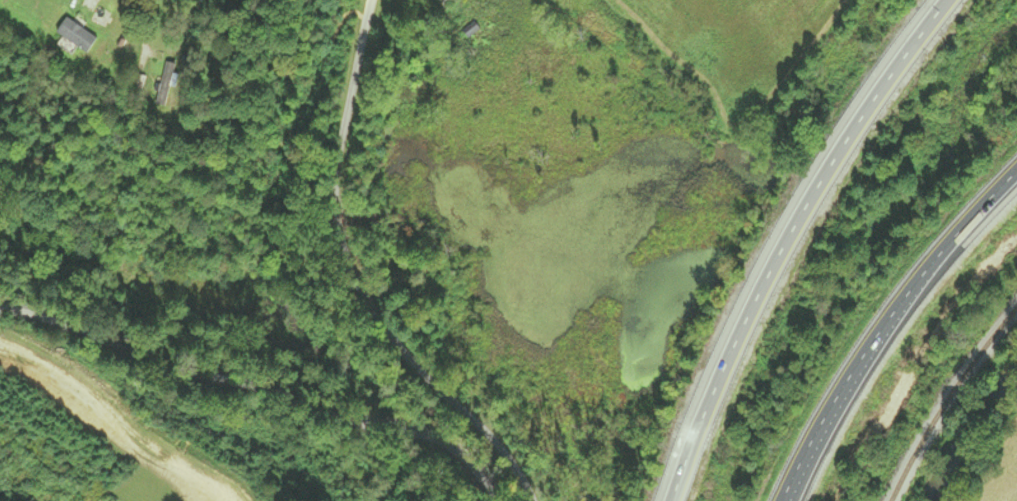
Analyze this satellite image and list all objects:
building: (442, 3)
building: (74, 36)
building: (162, 85)
road: (786, 239)
road: (361, 277)
road: (883, 324)
road: (257, 391)
railway: (951, 400)
river: (967, 433)

